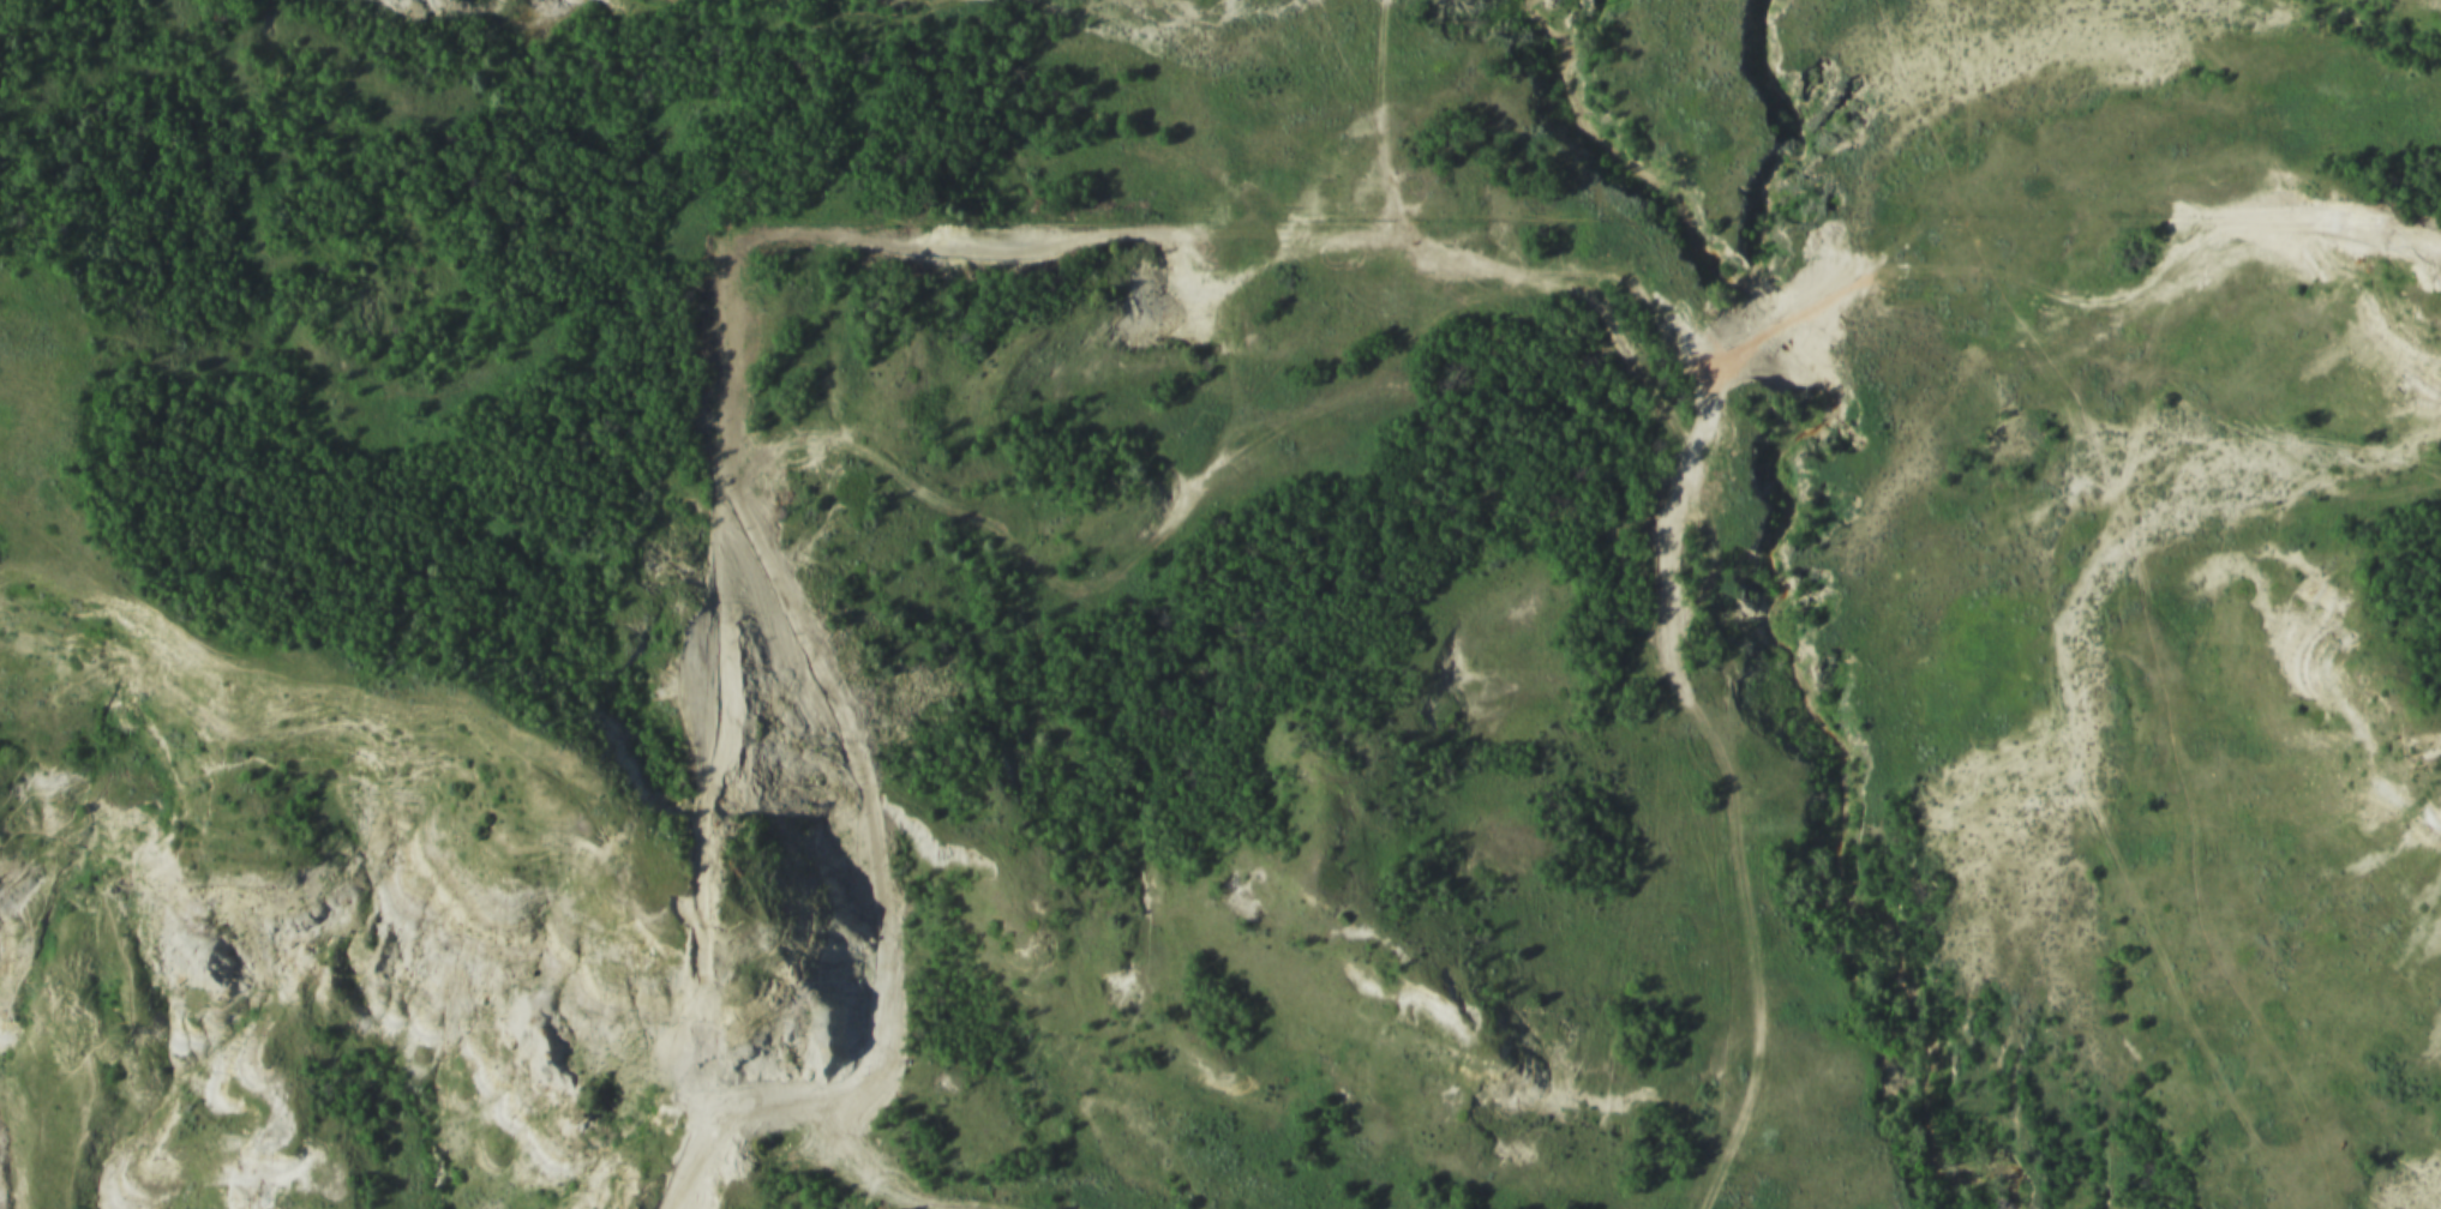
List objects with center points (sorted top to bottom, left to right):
road: (1383, 120)
road: (1715, 542)

